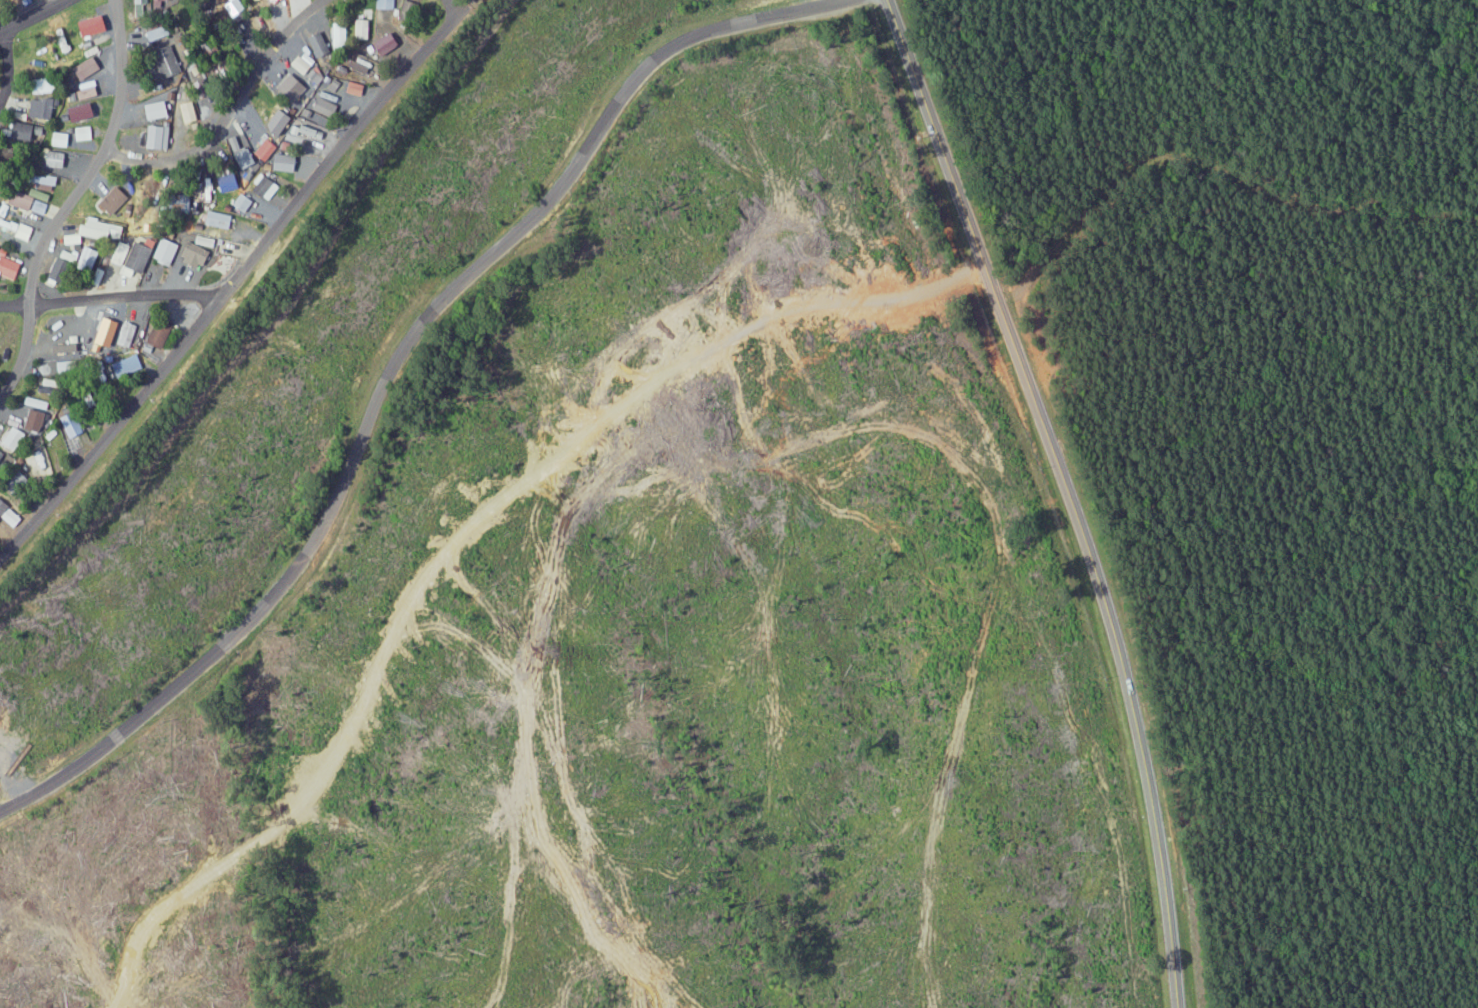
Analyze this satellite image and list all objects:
building: (269, 0)
building: (154, 3)
building: (382, 4)
road: (460, 5)
building: (136, 6)
road: (32, 15)
building: (94, 26)
building: (357, 28)
building: (313, 42)
building: (378, 45)
building: (161, 61)
building: (359, 62)
building: (295, 64)
road: (6, 65)
building: (353, 67)
building: (87, 68)
building: (311, 75)
building: (286, 88)
building: (349, 88)
road: (234, 103)
building: (319, 106)
building: (41, 108)
building: (149, 110)
building: (83, 112)
building: (303, 113)
building: (275, 125)
building: (28, 132)
building: (82, 132)
building: (306, 132)
building: (151, 137)
building: (60, 139)
building: (261, 149)
building: (240, 158)
building: (53, 159)
building: (278, 162)
building: (45, 182)
building: (222, 182)
building: (261, 187)
building: (108, 199)
building: (20, 200)
building: (175, 202)
building: (238, 202)
road: (76, 203)
building: (3, 209)
building: (213, 219)
building: (15, 228)
building: (92, 229)
building: (18, 242)
building: (160, 251)
building: (190, 254)
building: (119, 263)
building: (8, 266)
road: (241, 284)
road: (114, 296)
building: (120, 331)
building: (155, 332)
building: (128, 364)
road: (392, 365)
building: (35, 403)
building: (32, 420)
building: (72, 424)
building: (12, 438)
building: (3, 460)
road: (1067, 494)
building: (9, 513)

